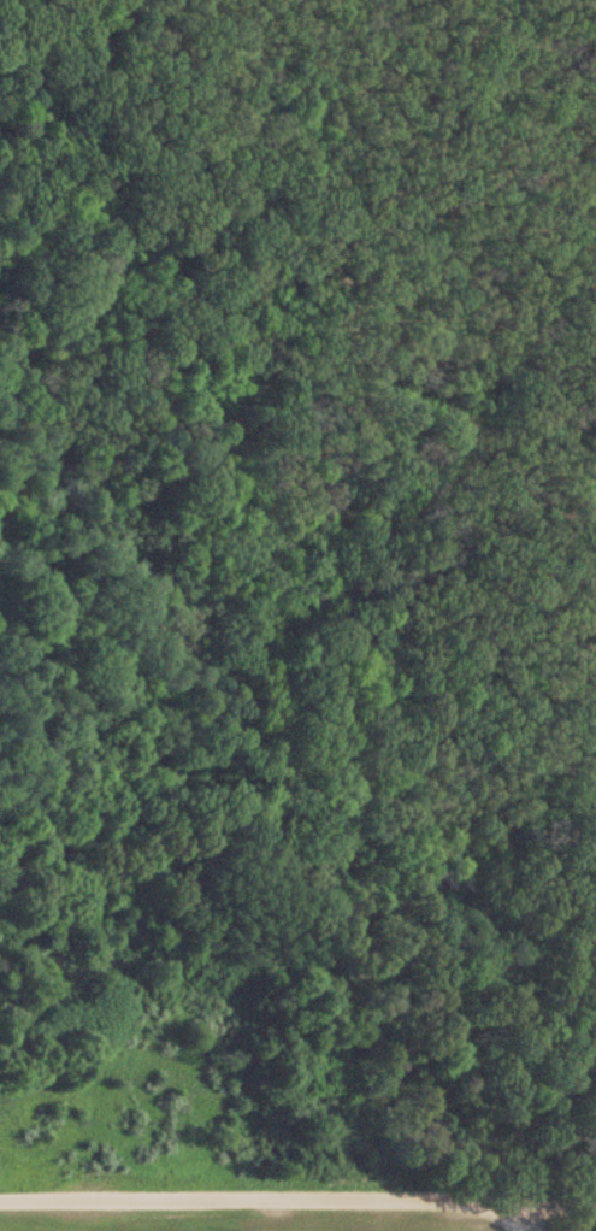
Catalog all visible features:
road: (297, 1190)

